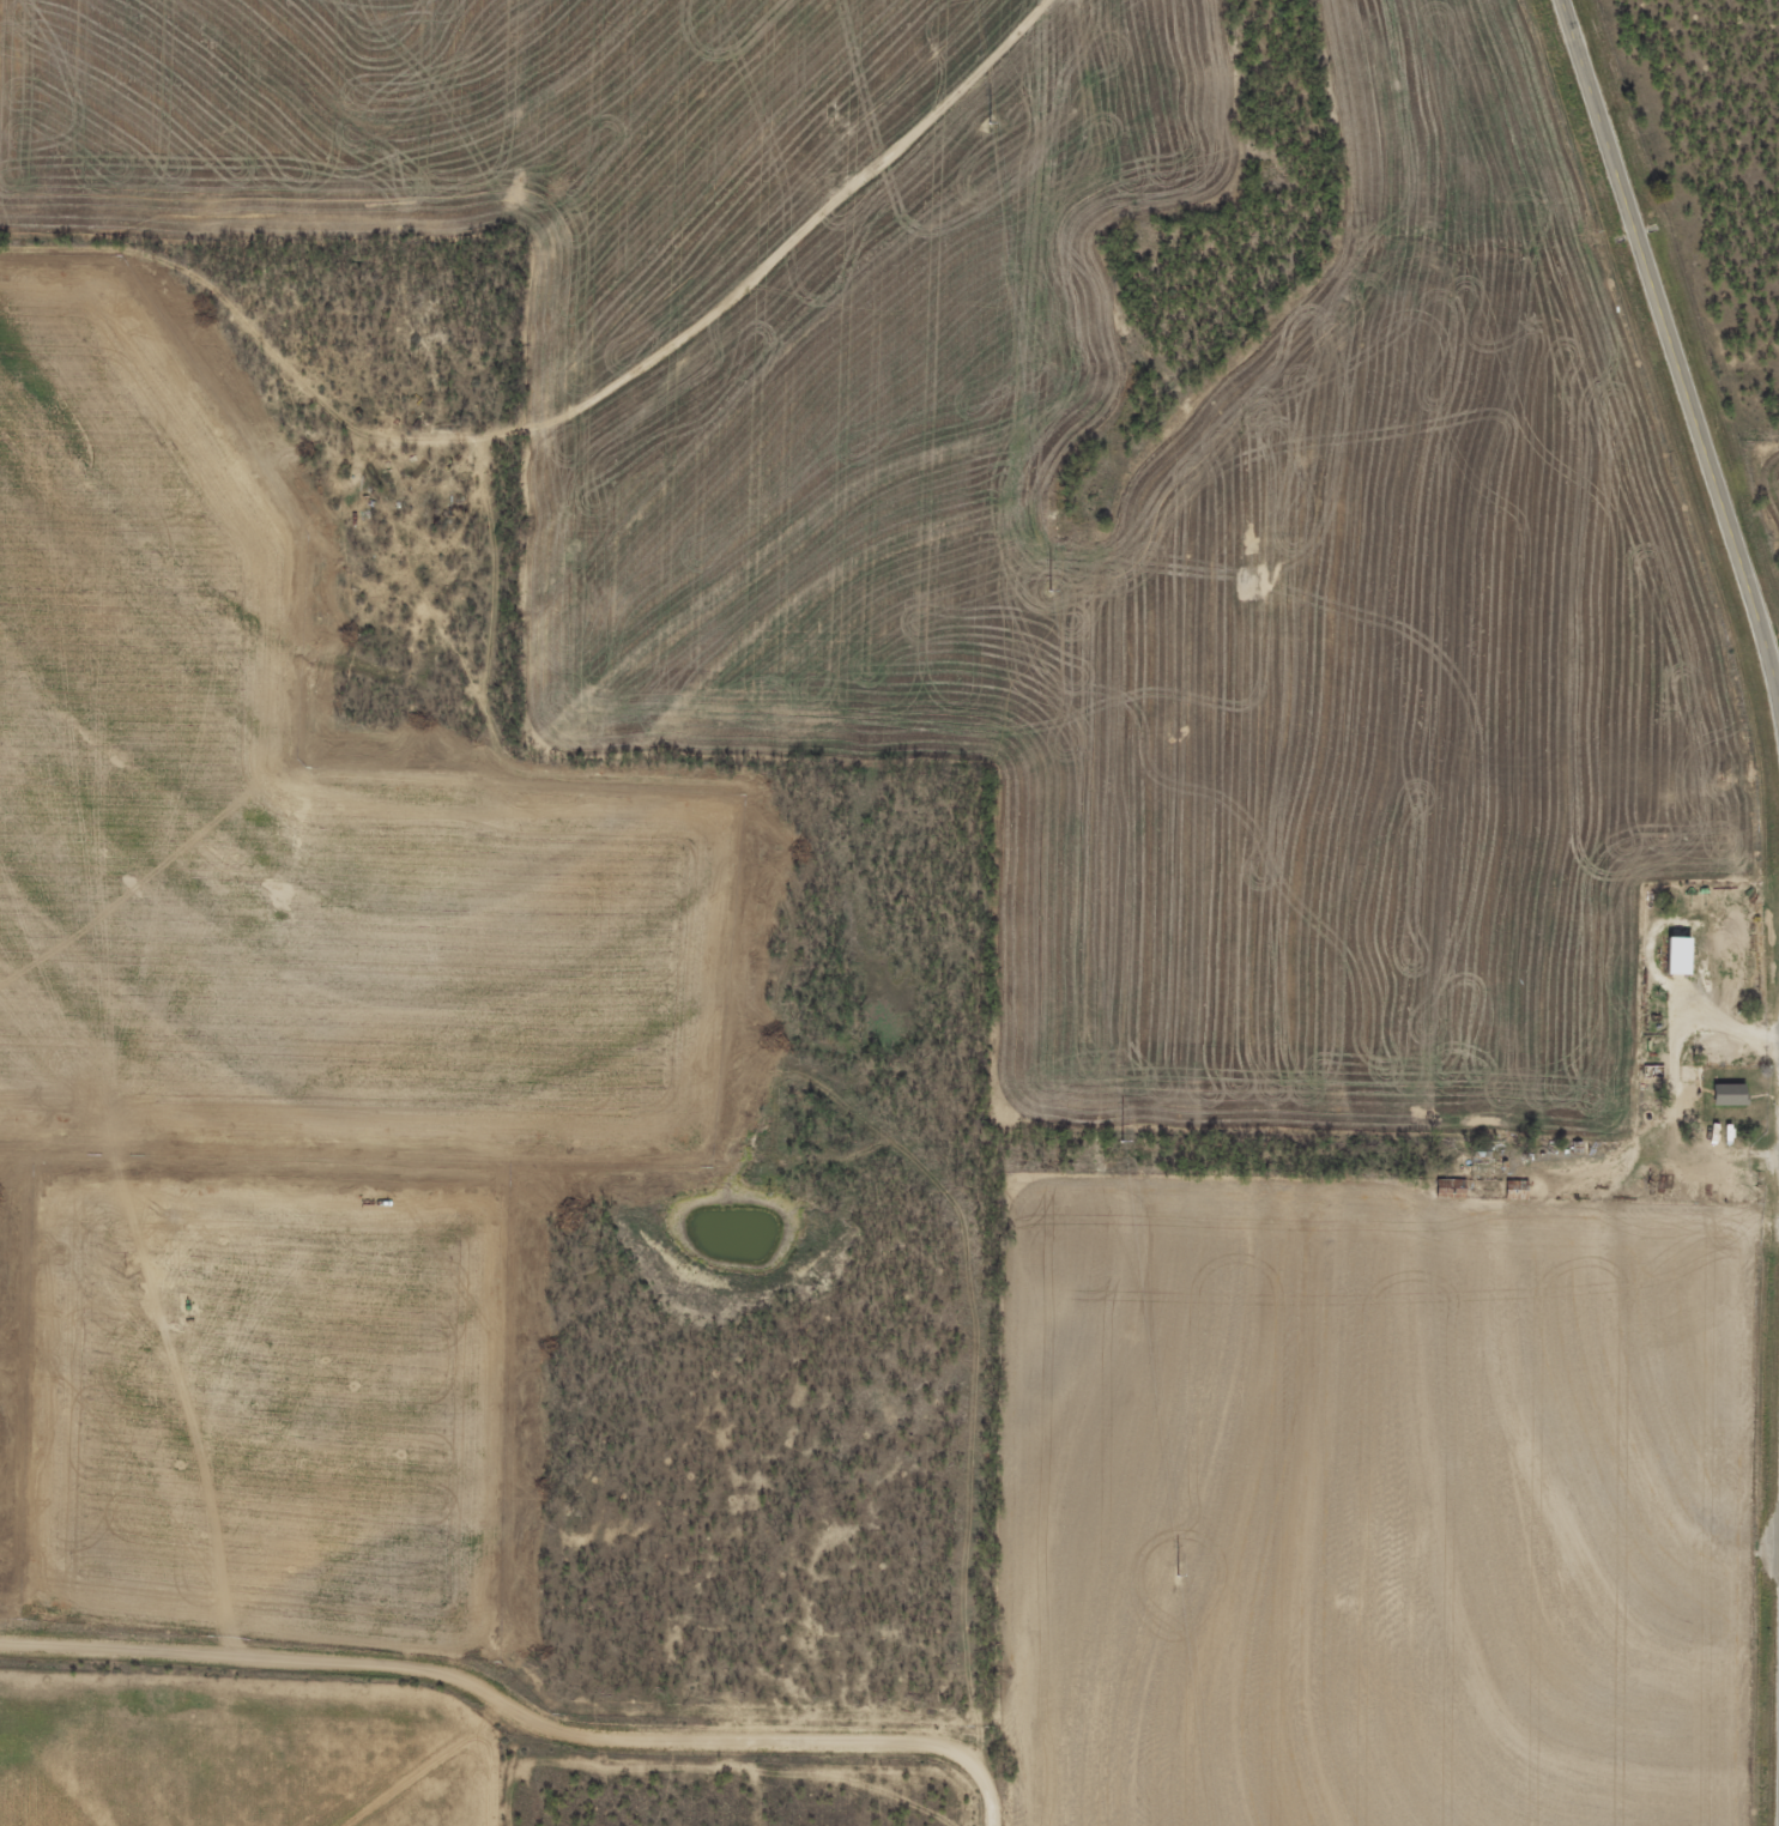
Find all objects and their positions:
power tower: (988, 119)
road: (1671, 350)
power tower: (1052, 589)
building: (1683, 954)
building: (1736, 1093)
power tower: (1123, 1142)
power tower: (1179, 1576)
road: (516, 1713)

